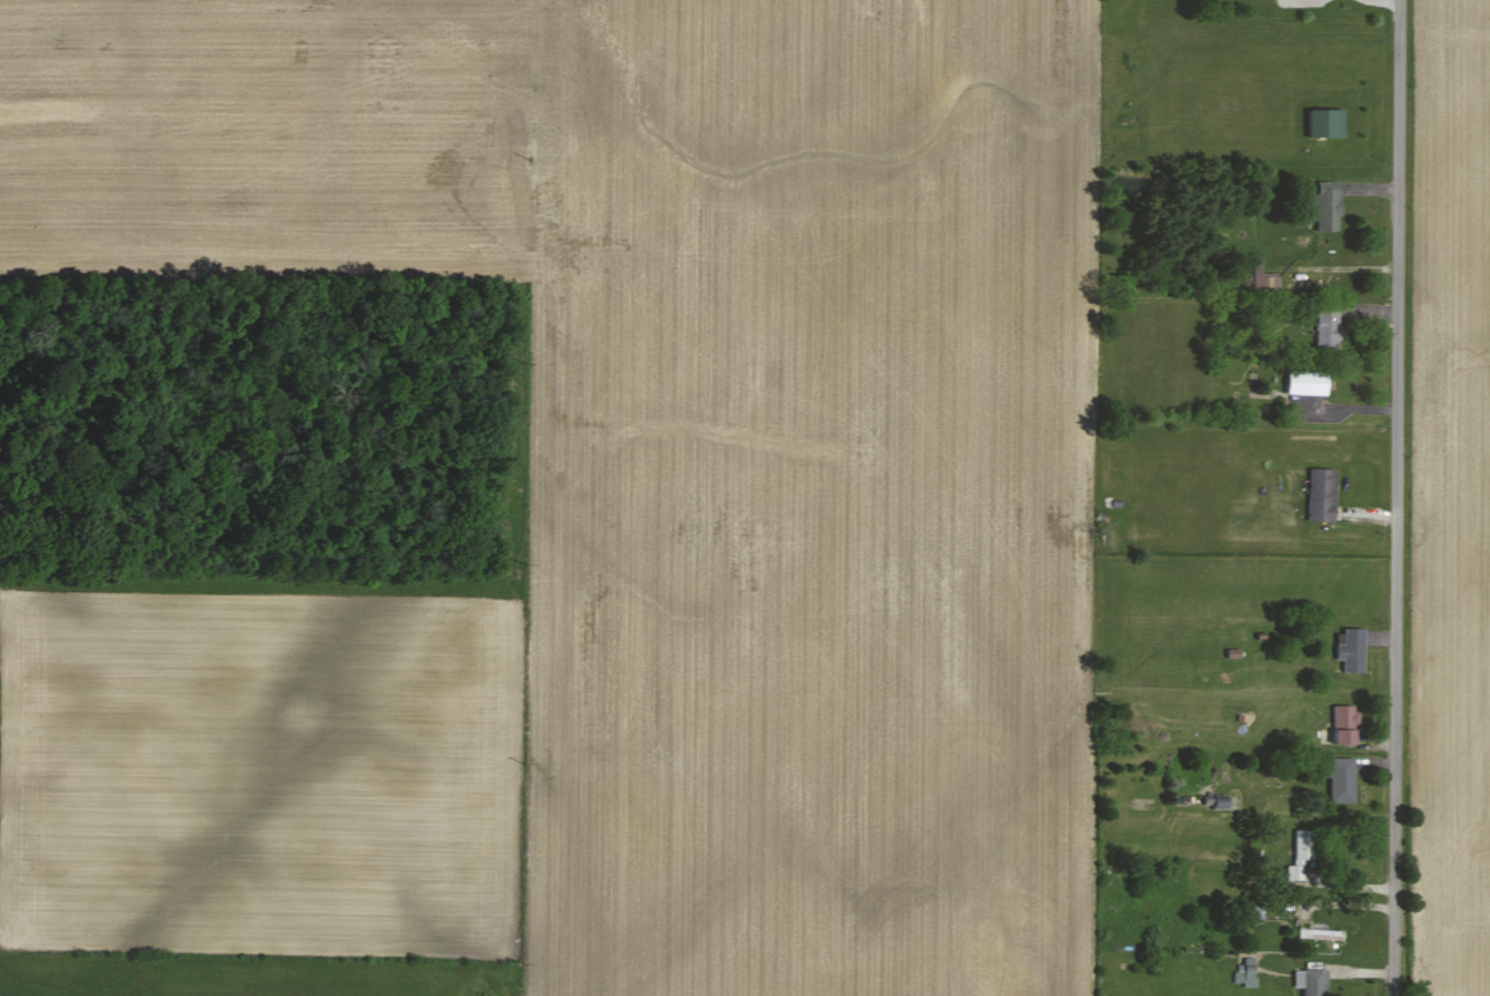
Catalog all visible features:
building: (1326, 123)
building: (1324, 207)
building: (1264, 277)
building: (1327, 326)
building: (1306, 383)
building: (1321, 494)
road: (1397, 497)
building: (1351, 649)
building: (1344, 723)
building: (1340, 778)
building: (1301, 854)
building: (1254, 911)
building: (1320, 933)
building: (1246, 973)
building: (1312, 981)

